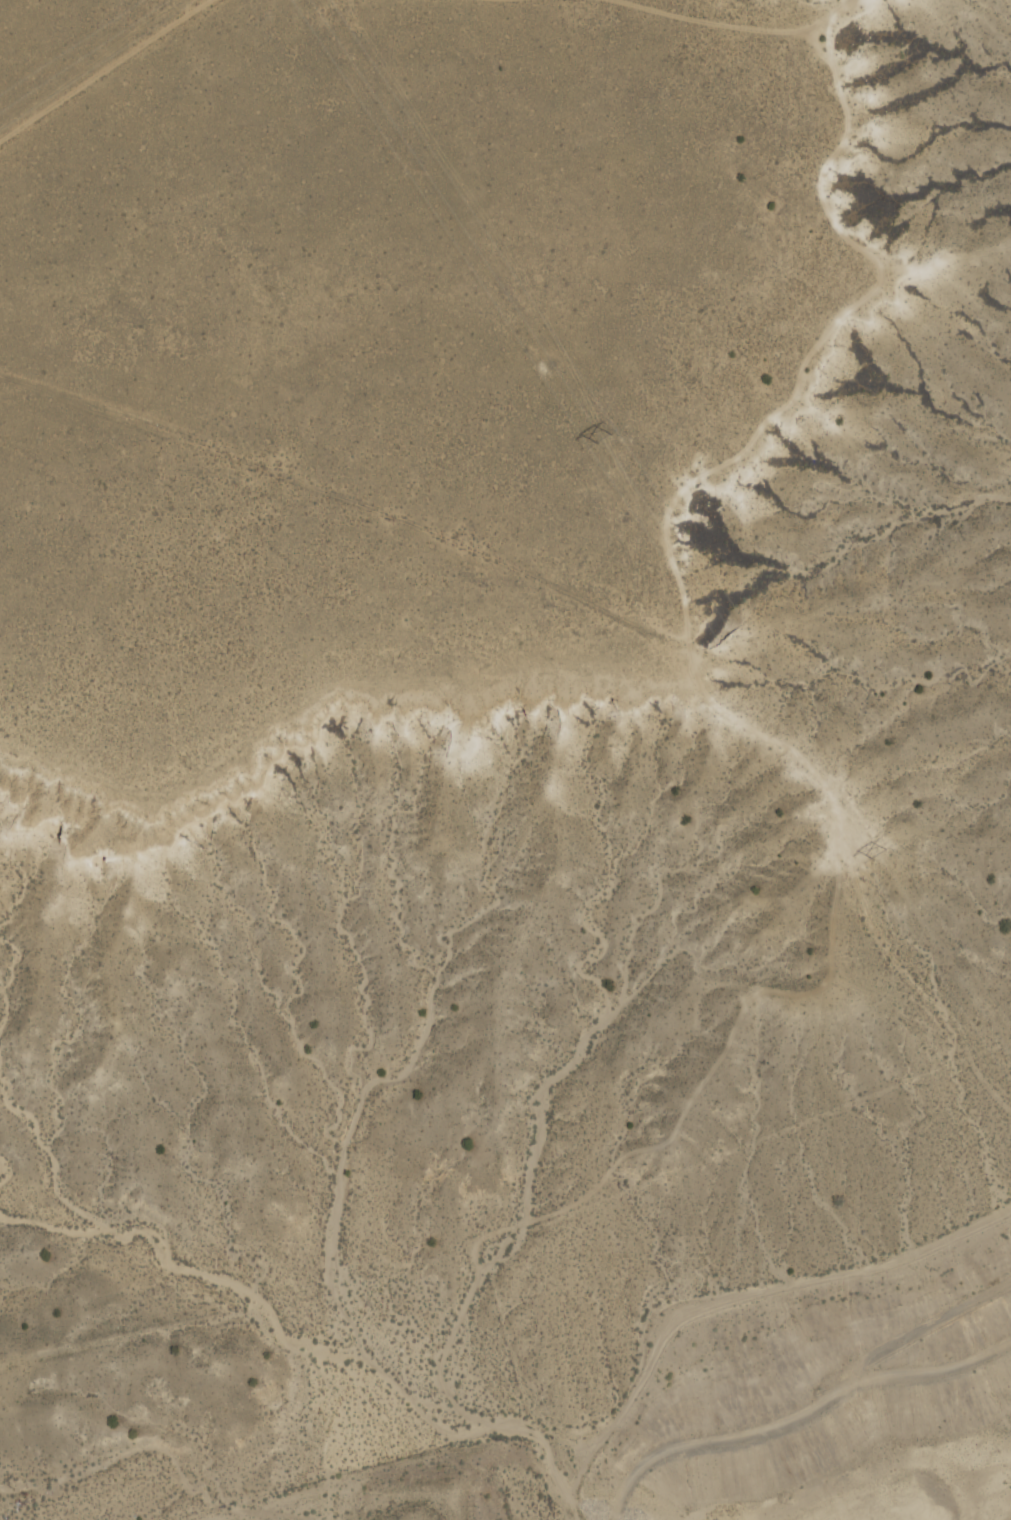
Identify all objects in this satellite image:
power tower: (602, 437)
power tower: (877, 851)

